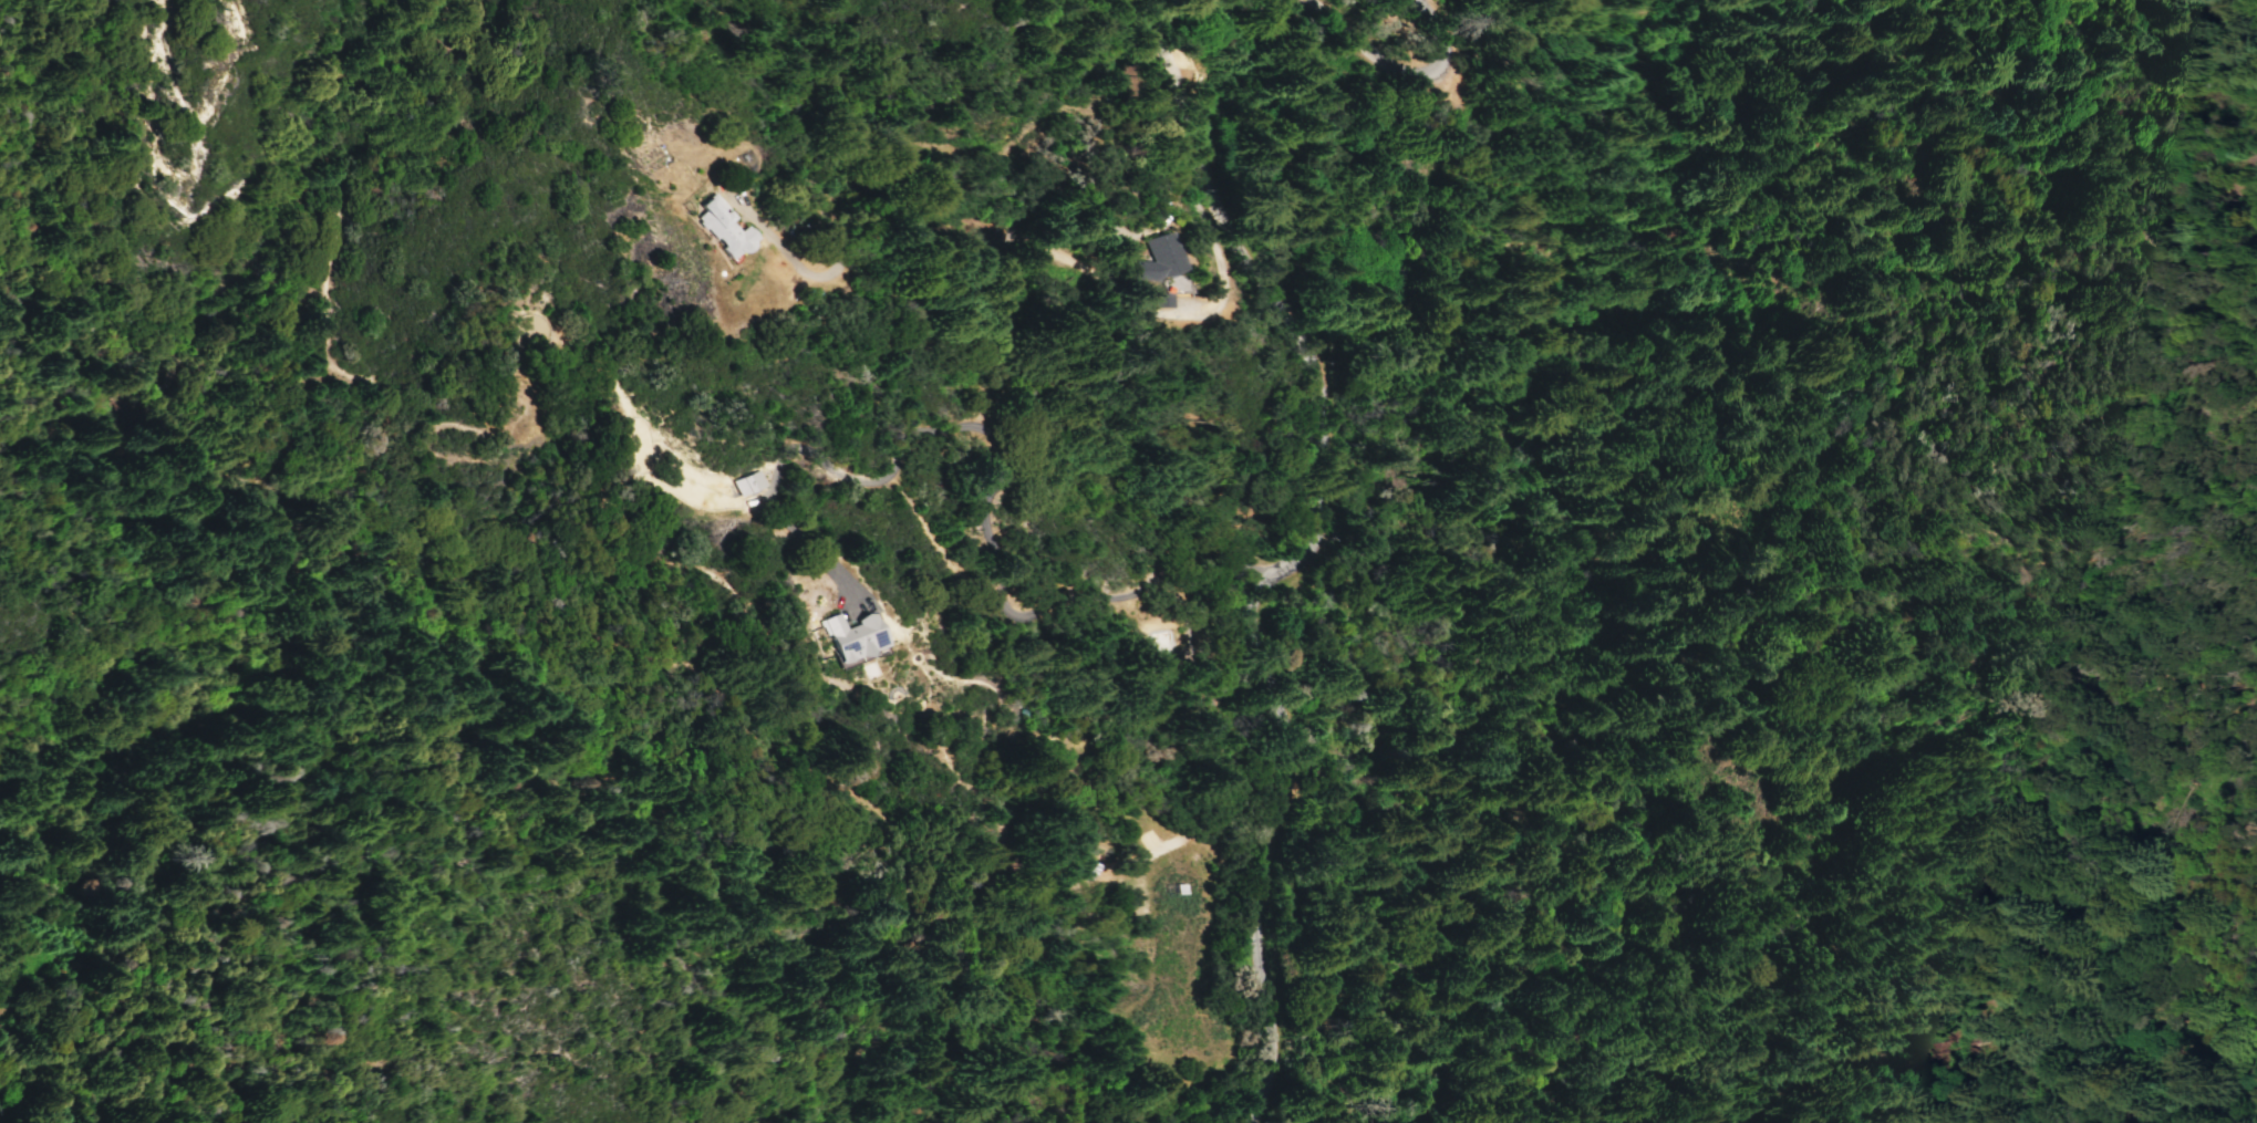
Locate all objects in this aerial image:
road: (1172, 10)
road: (1405, 72)
building: (721, 228)
building: (1155, 257)
road: (1218, 271)
building: (1161, 300)
building: (746, 482)
road: (983, 514)
road: (1292, 560)
building: (849, 636)
building: (1178, 890)

